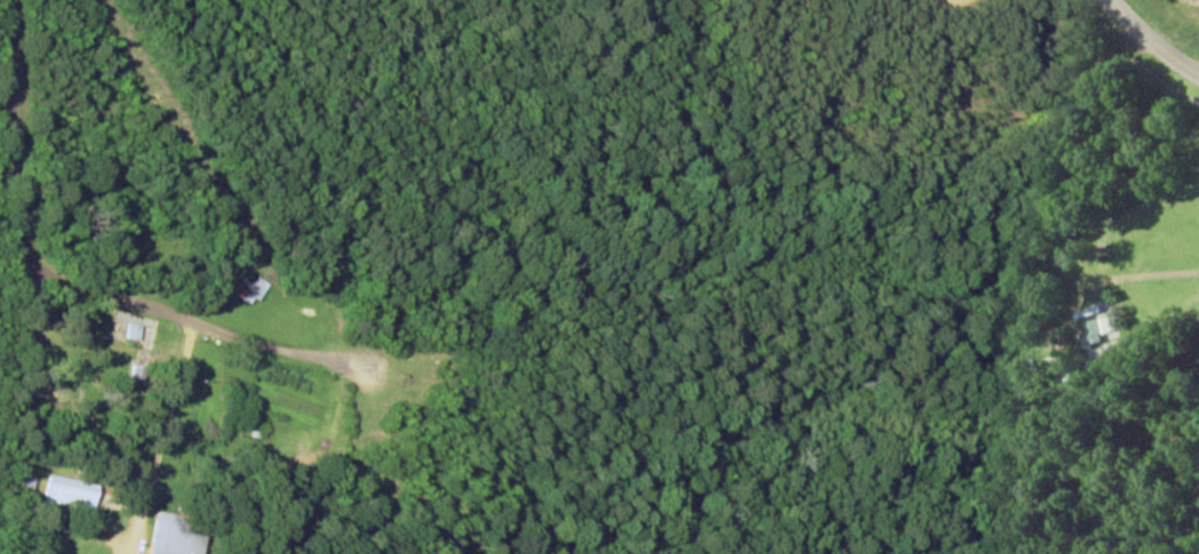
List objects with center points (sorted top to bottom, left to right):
road: (1152, 40)
road: (2, 192)
road: (24, 249)
building: (253, 290)
building: (1104, 329)
building: (73, 492)
building: (178, 536)

